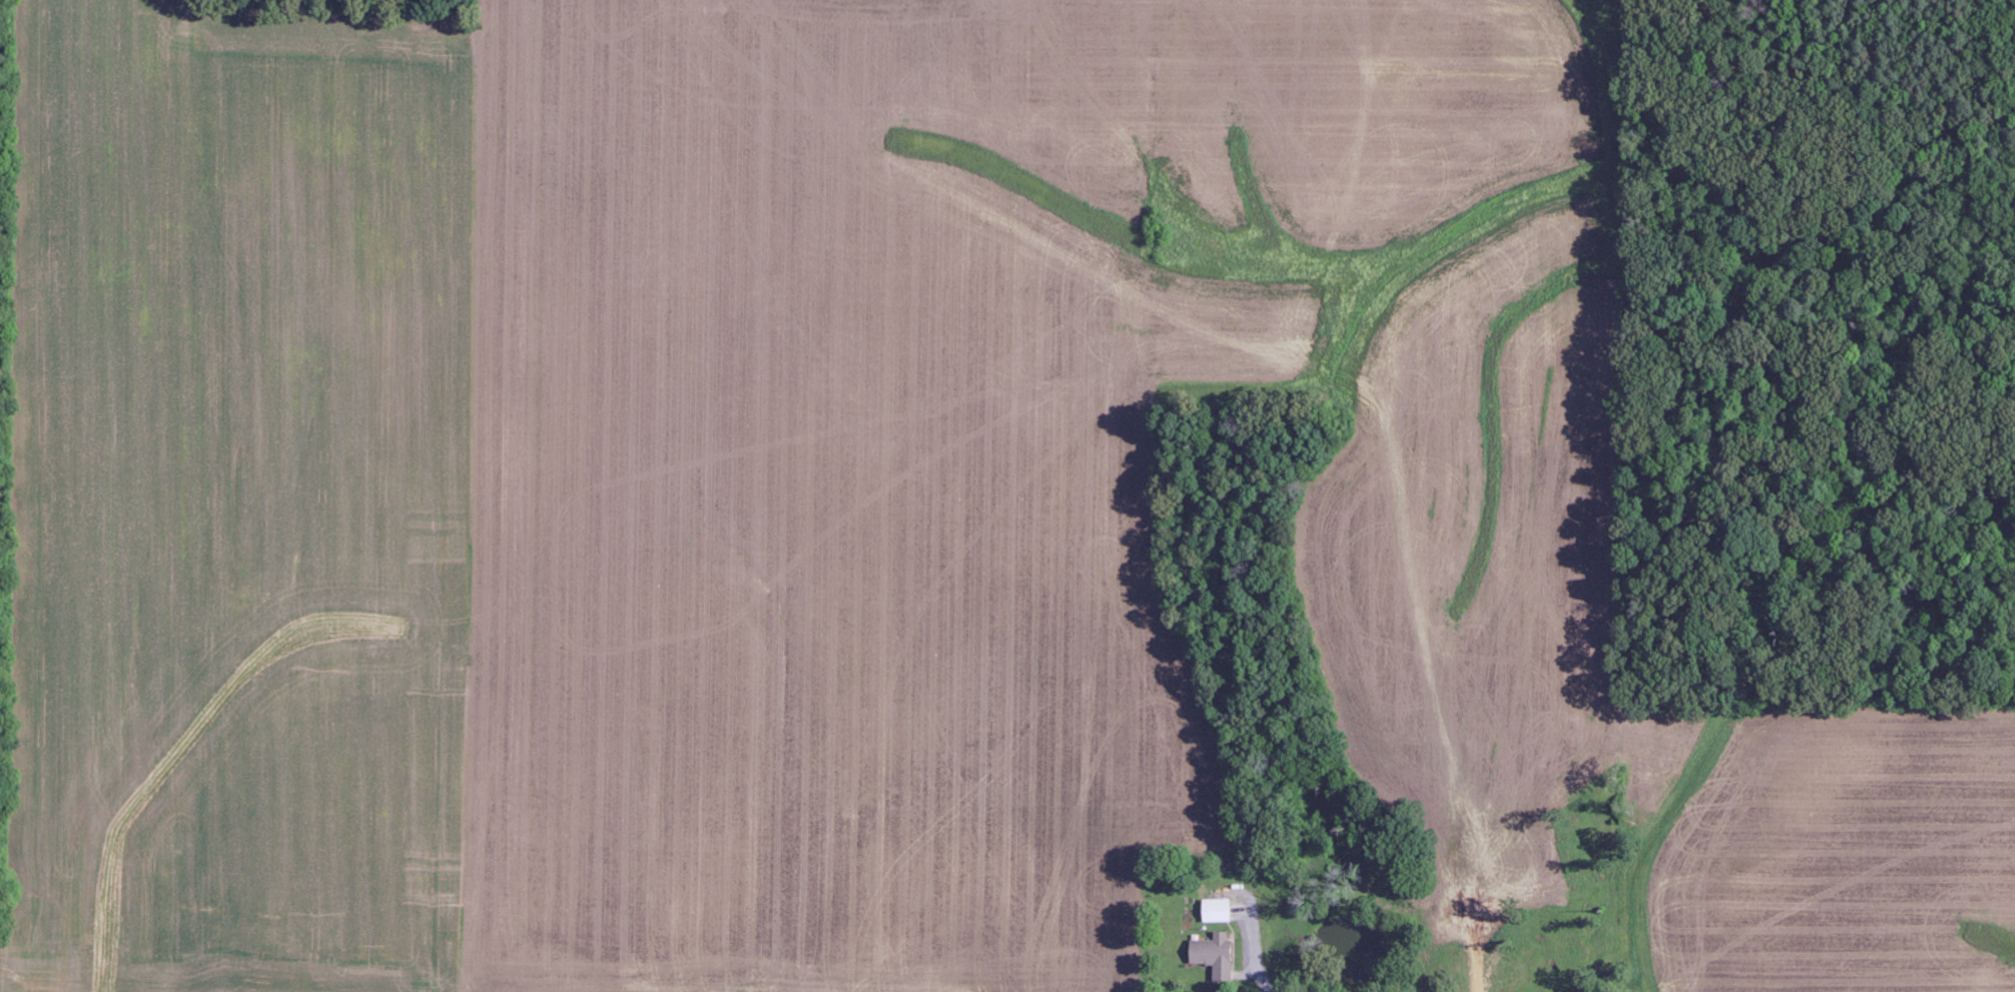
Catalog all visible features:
building: (1218, 911)
building: (1216, 957)

